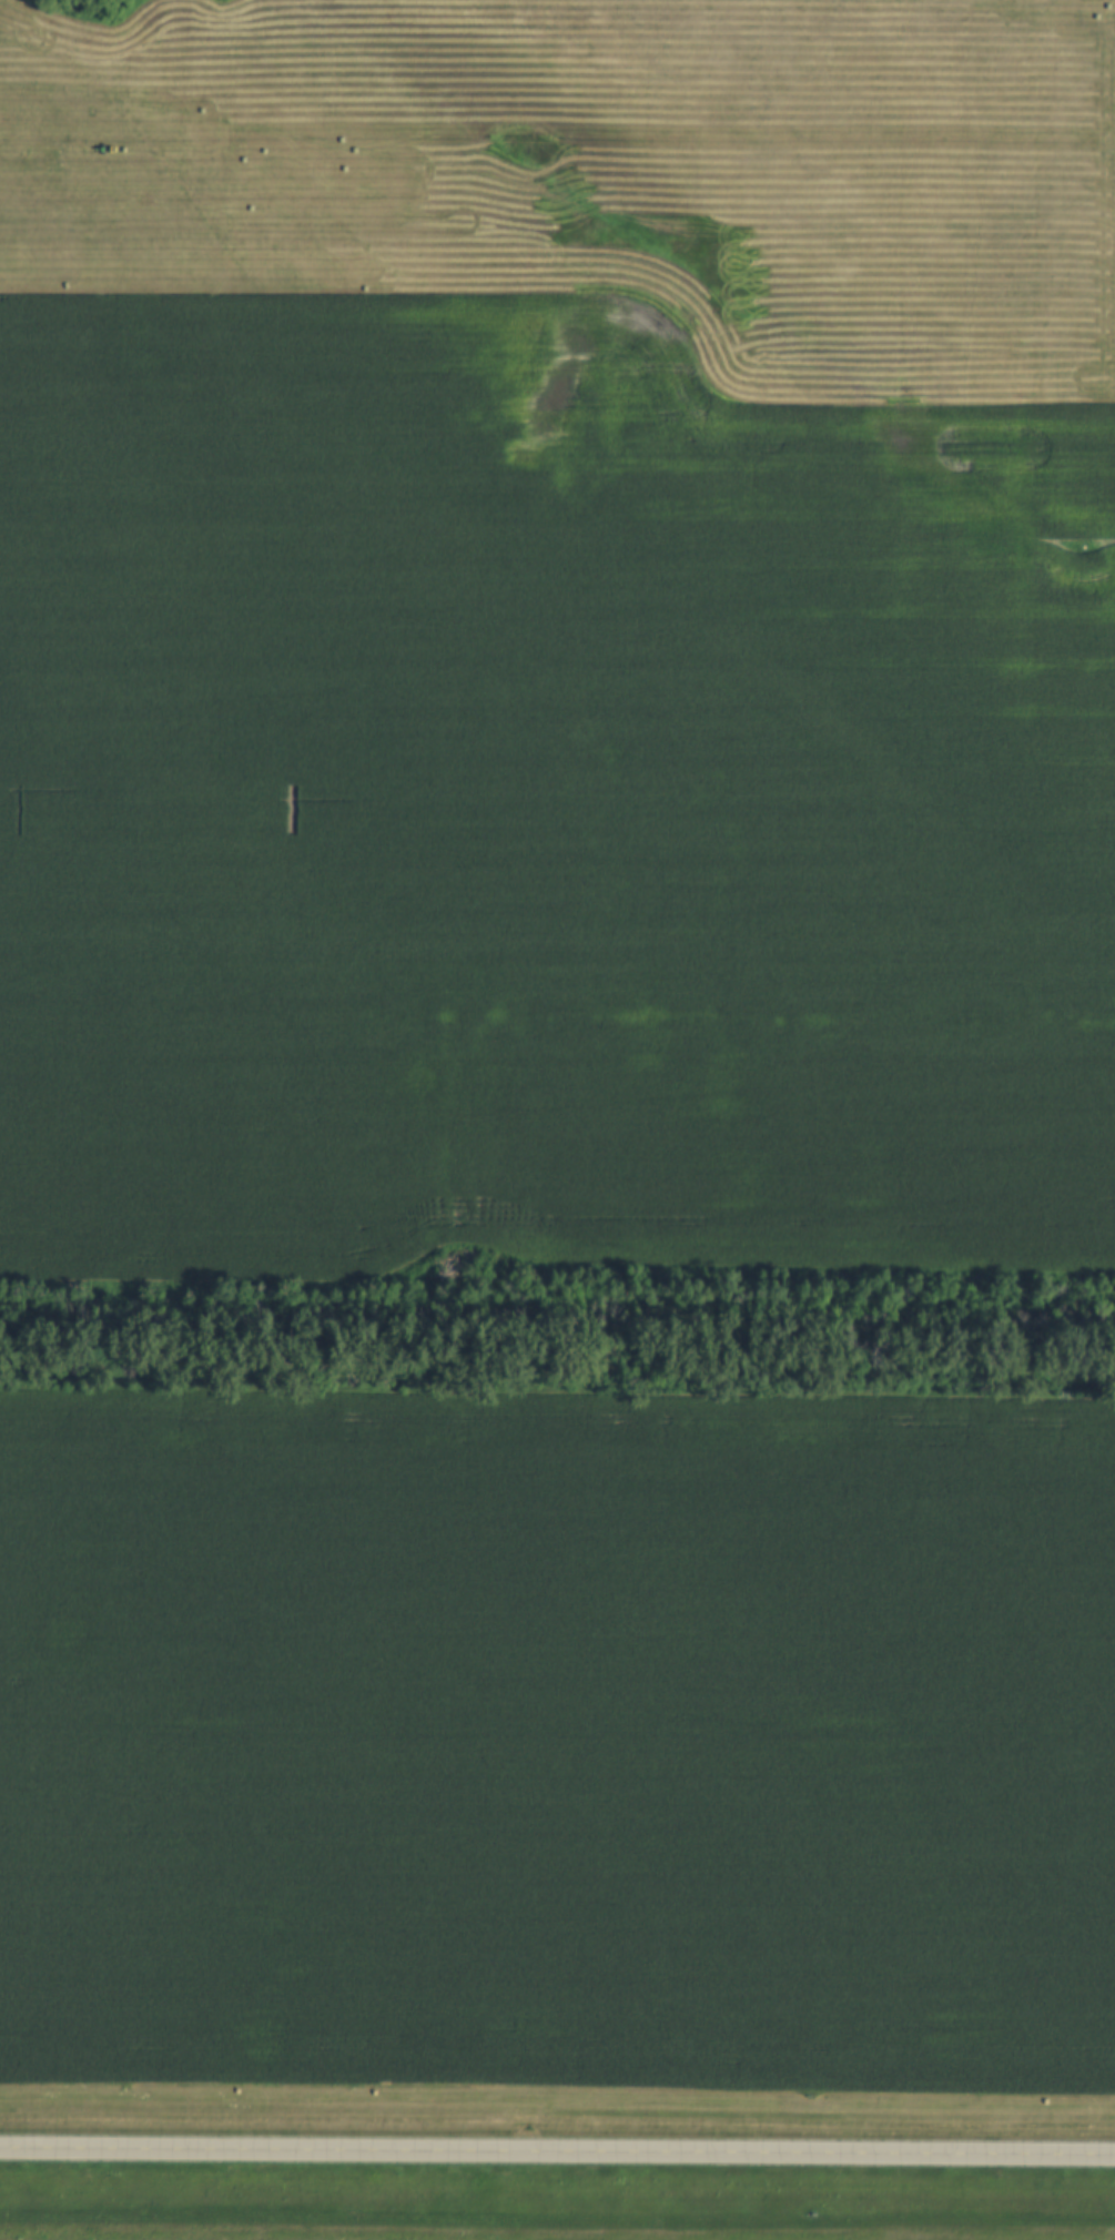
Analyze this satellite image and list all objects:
road: (557, 2153)

